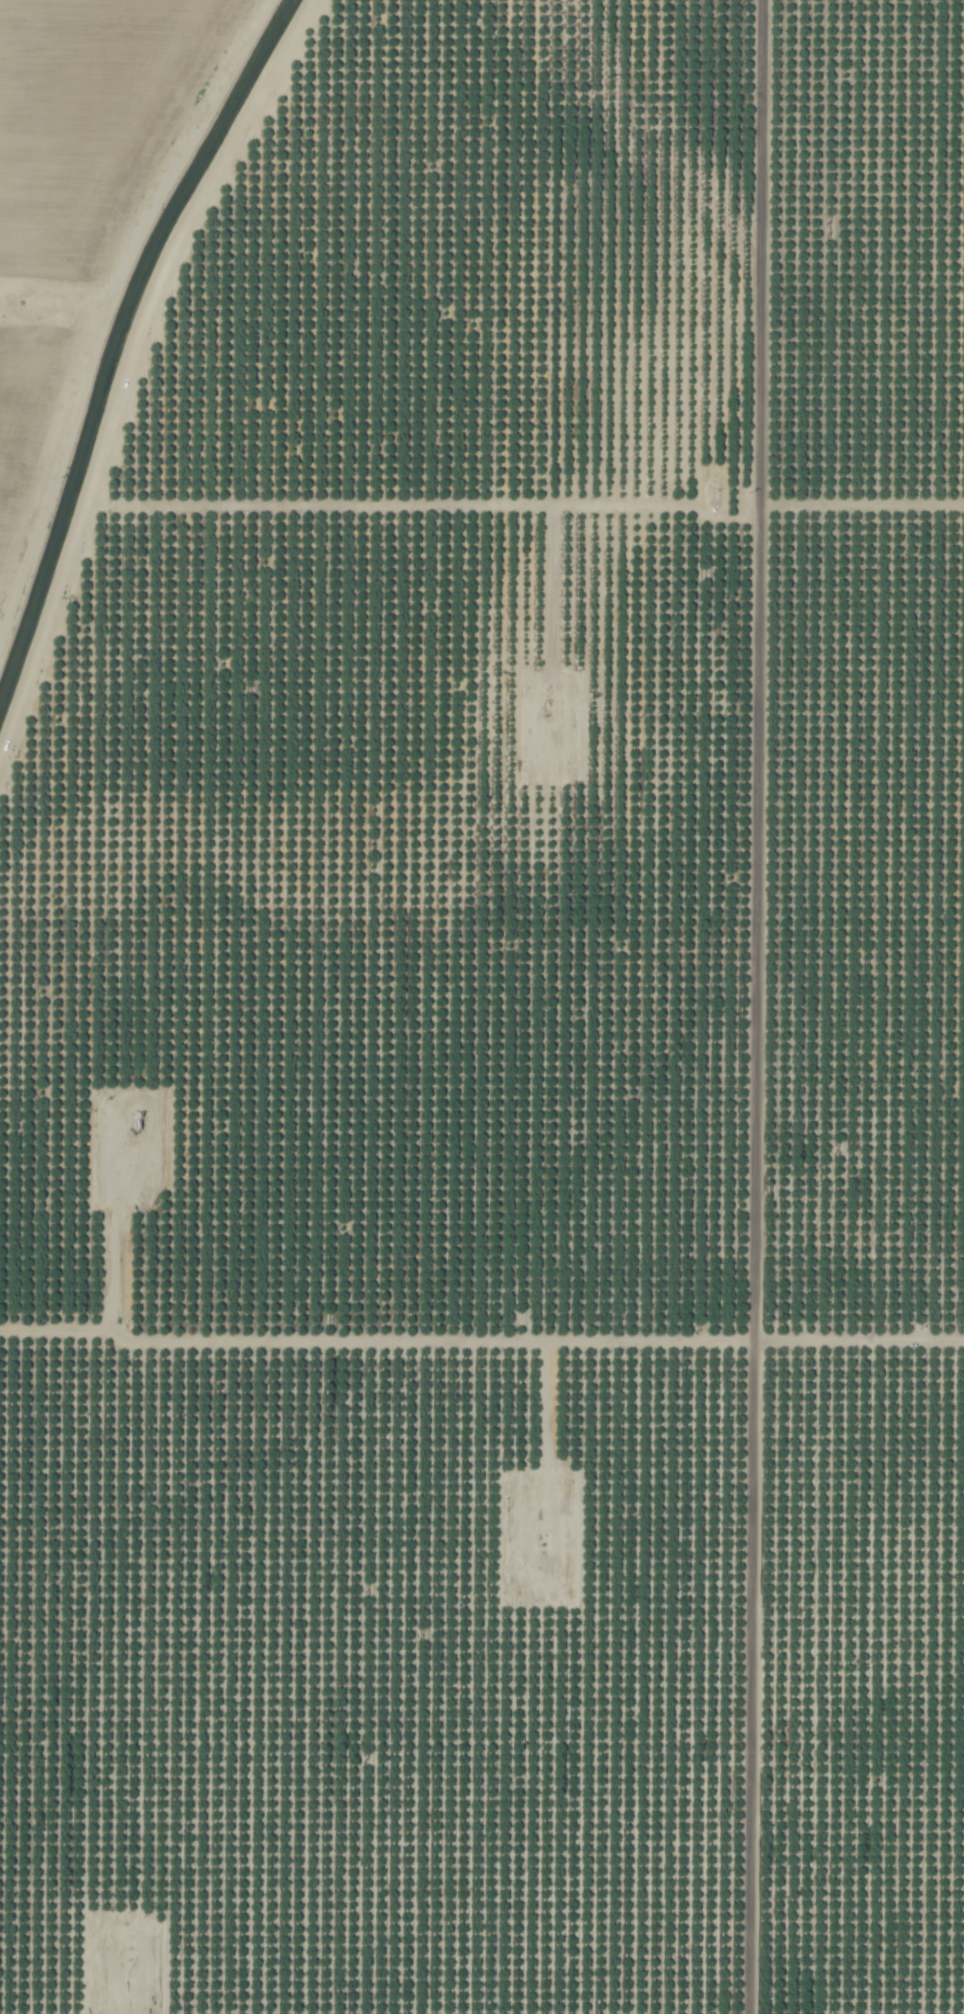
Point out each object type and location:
road: (380, 1337)
road: (862, 1340)

